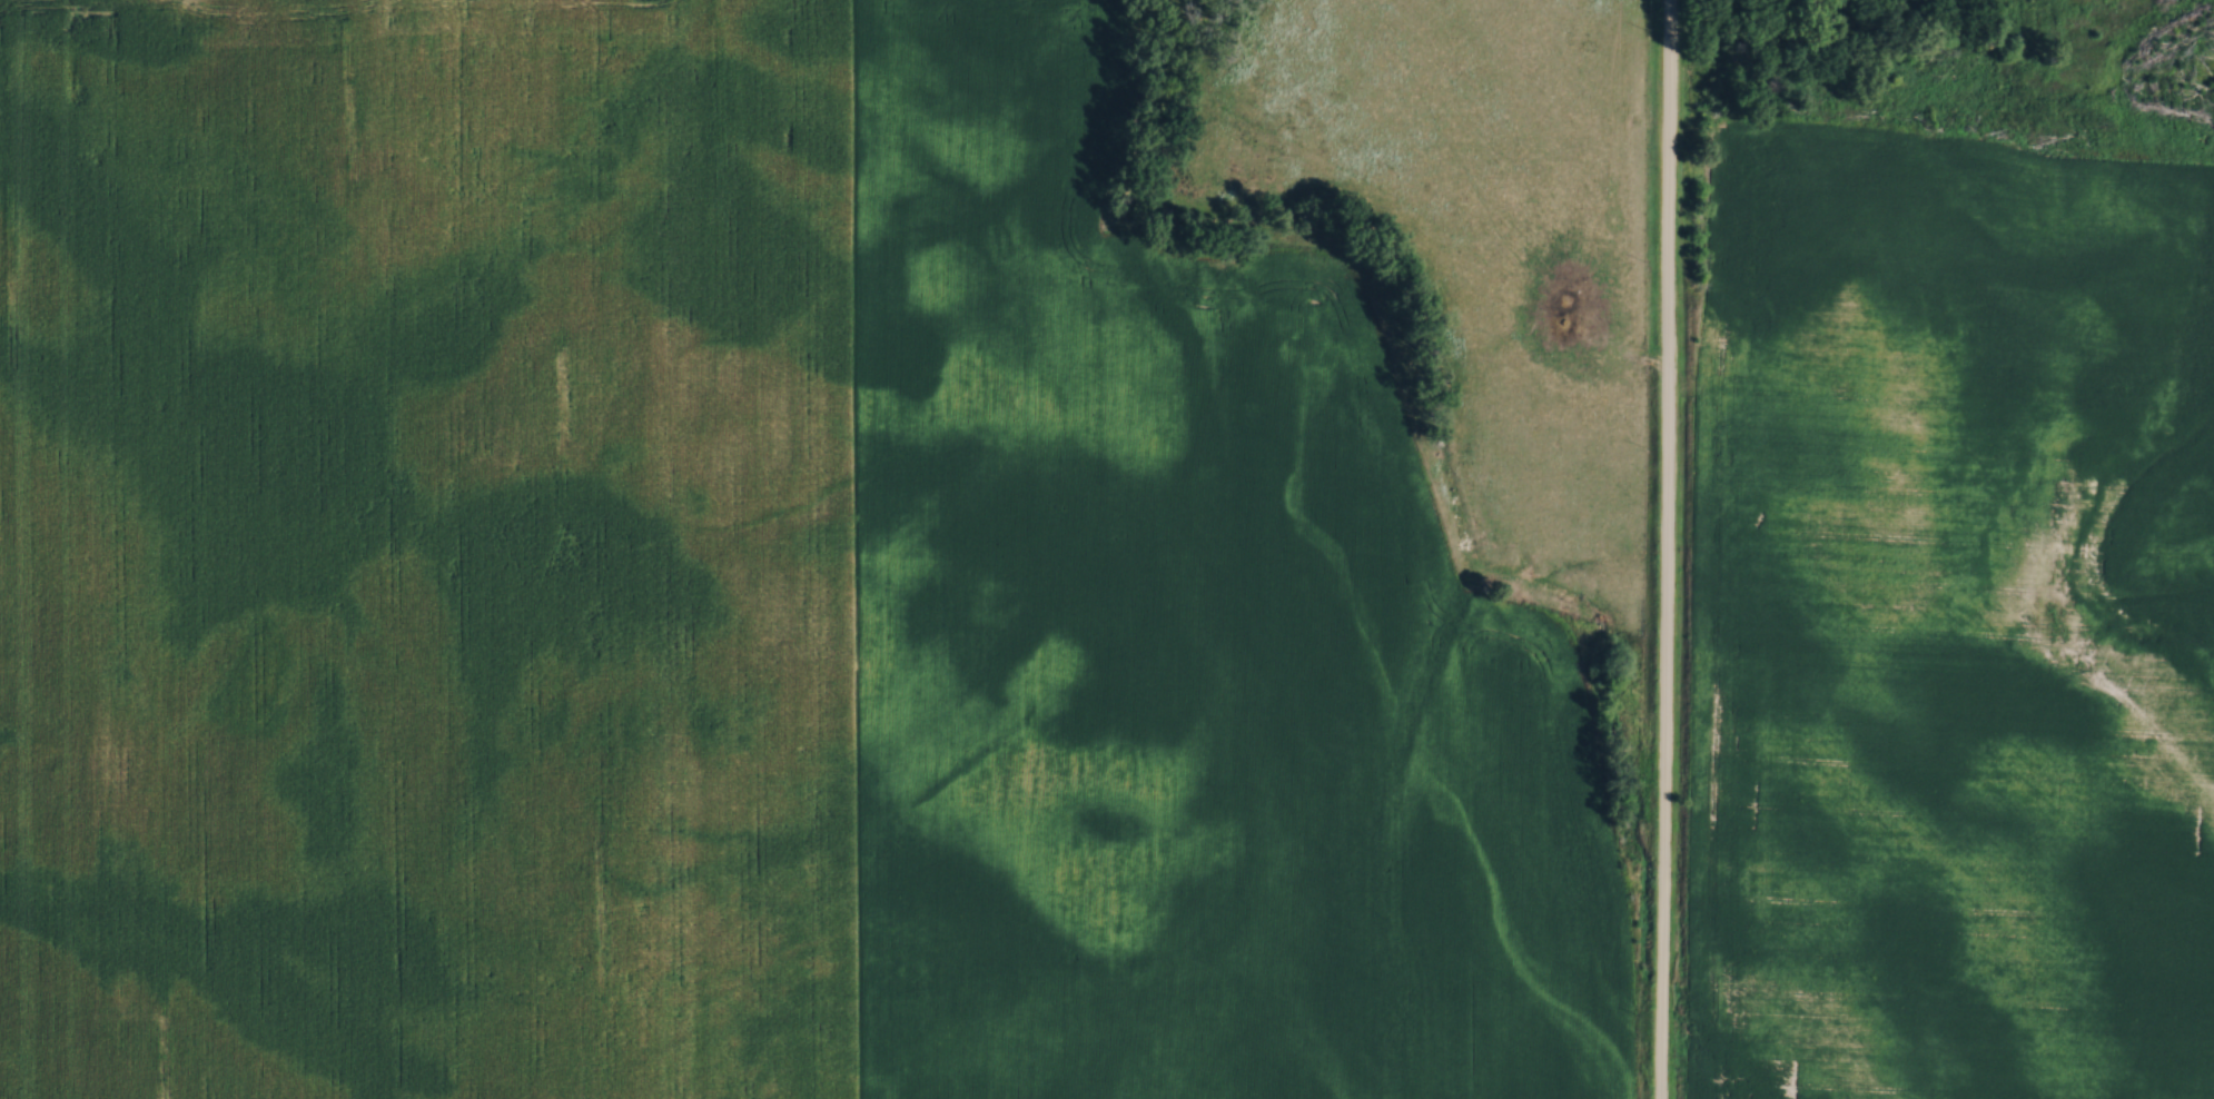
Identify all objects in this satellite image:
road: (1668, 549)

